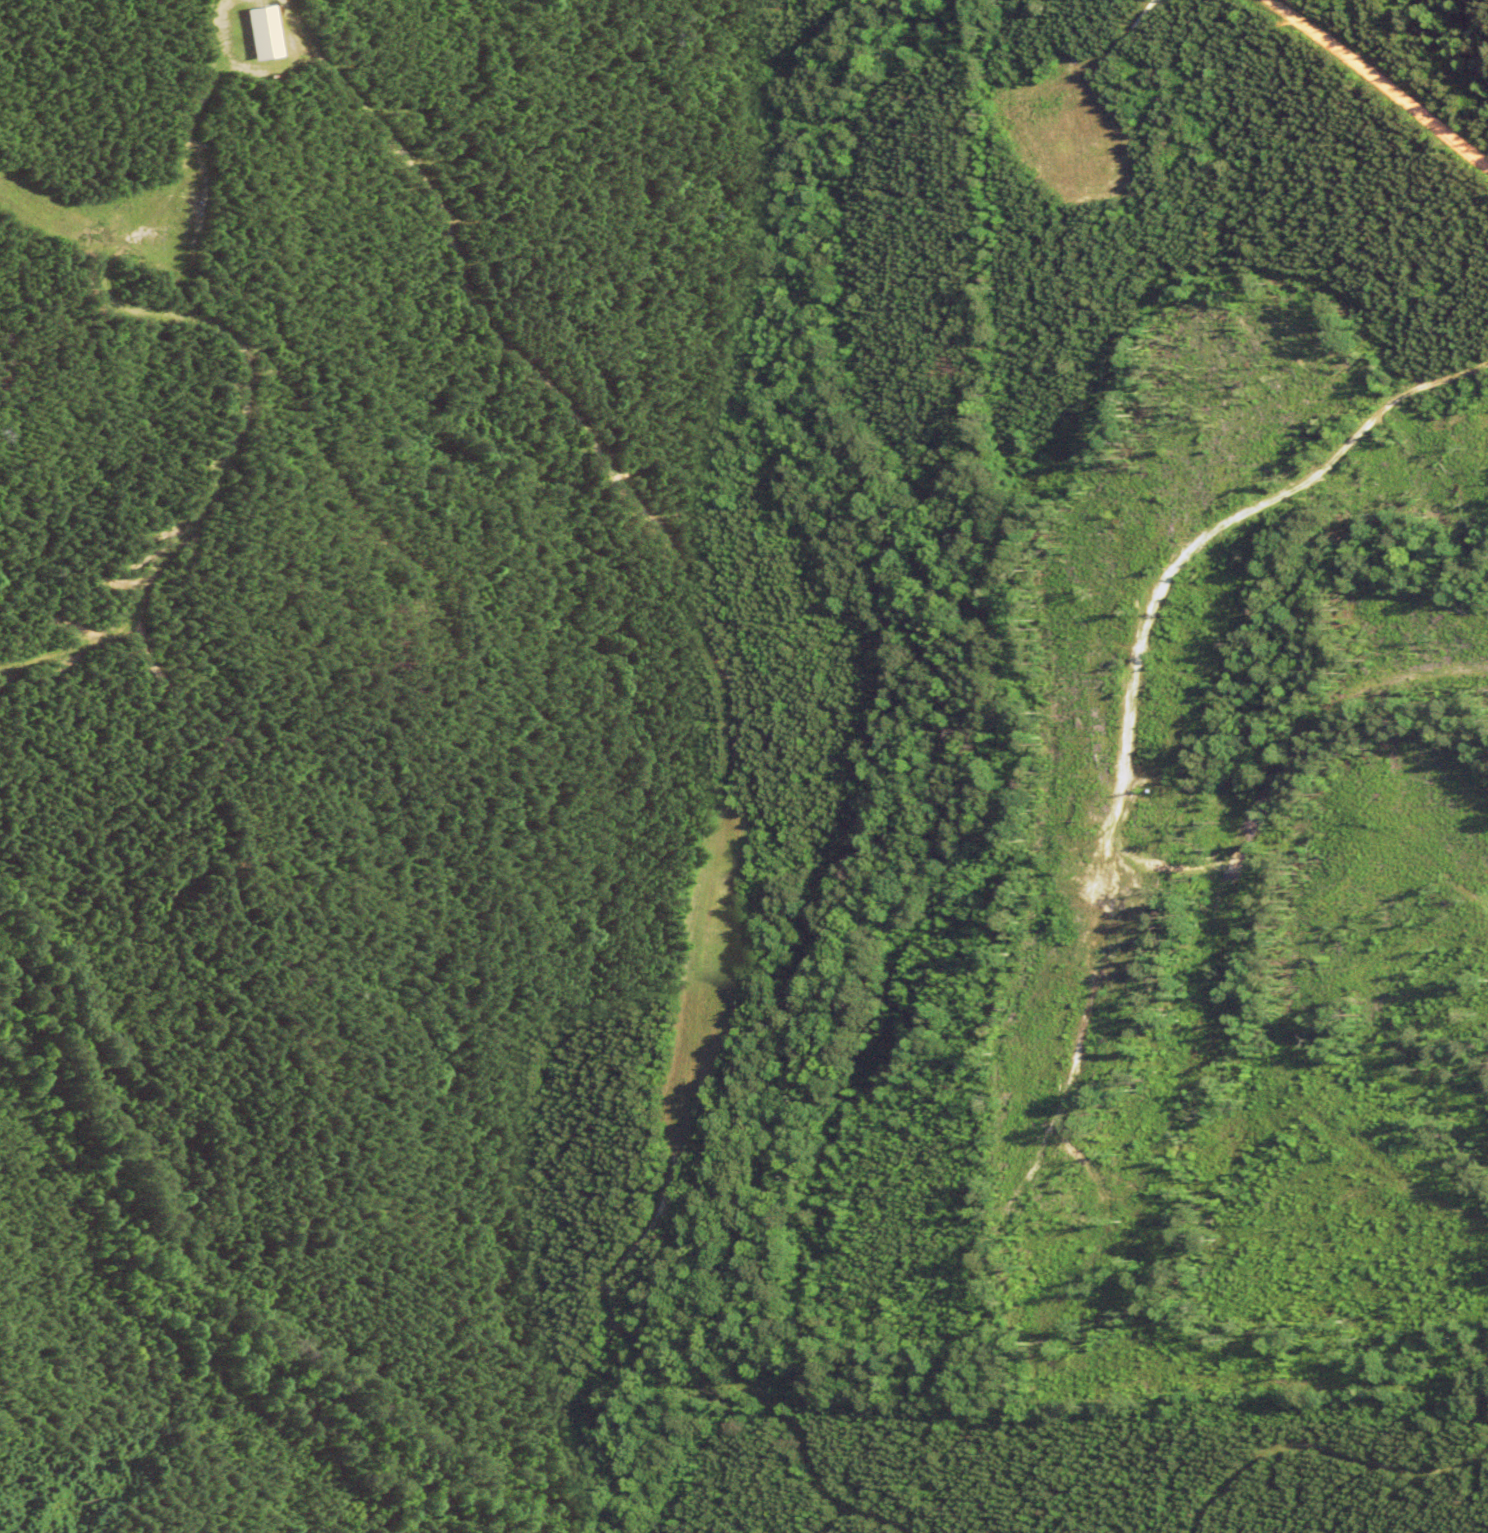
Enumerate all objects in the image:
road: (1461, 5)

